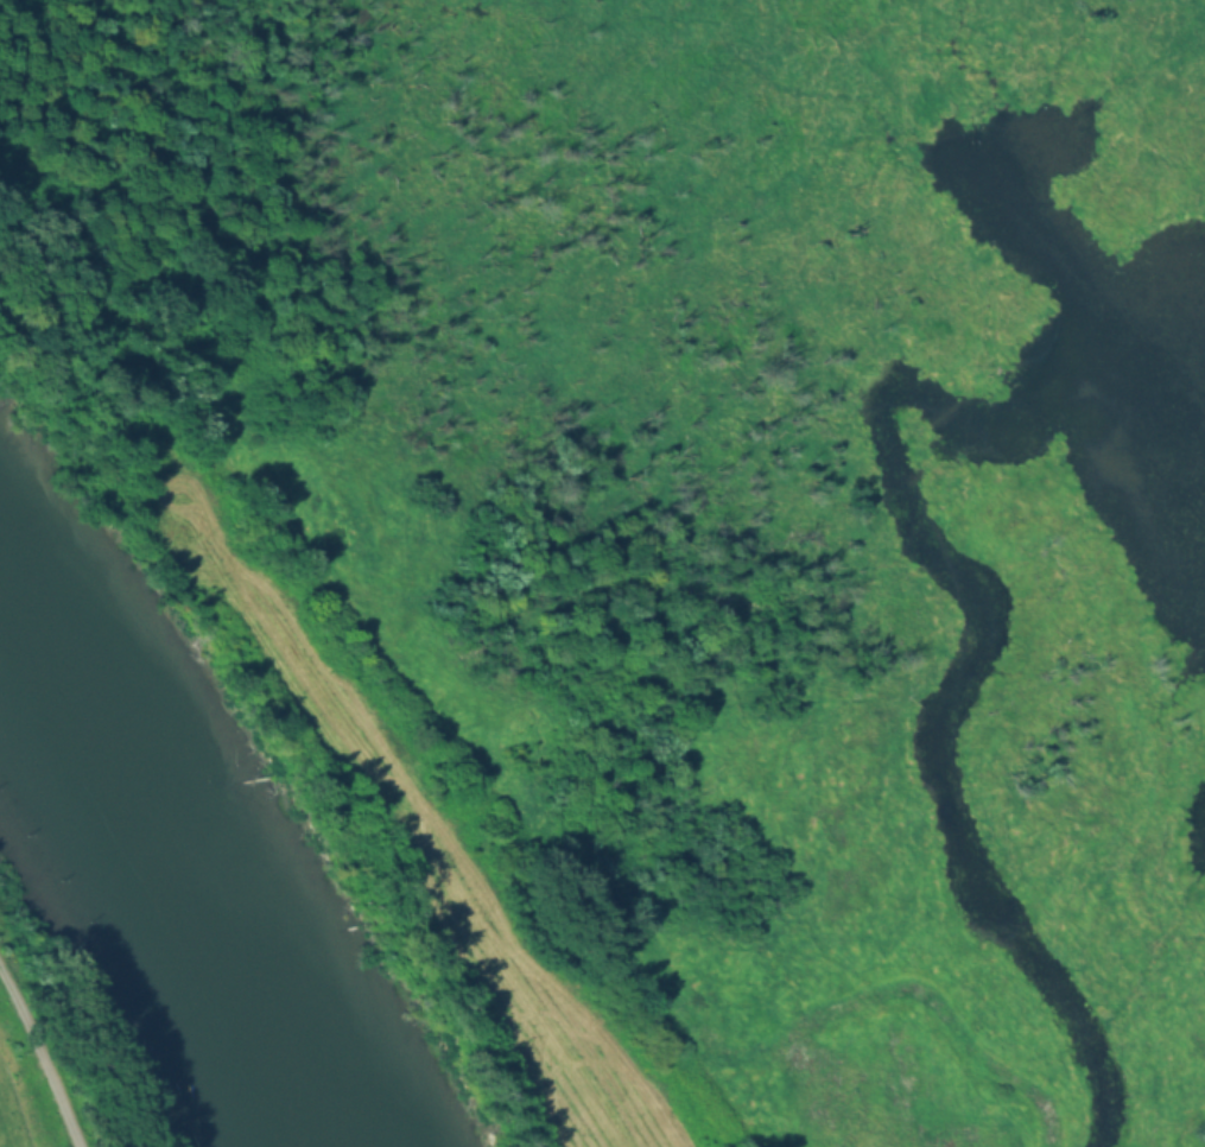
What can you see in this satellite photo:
river: (171, 877)
road: (36, 1065)

